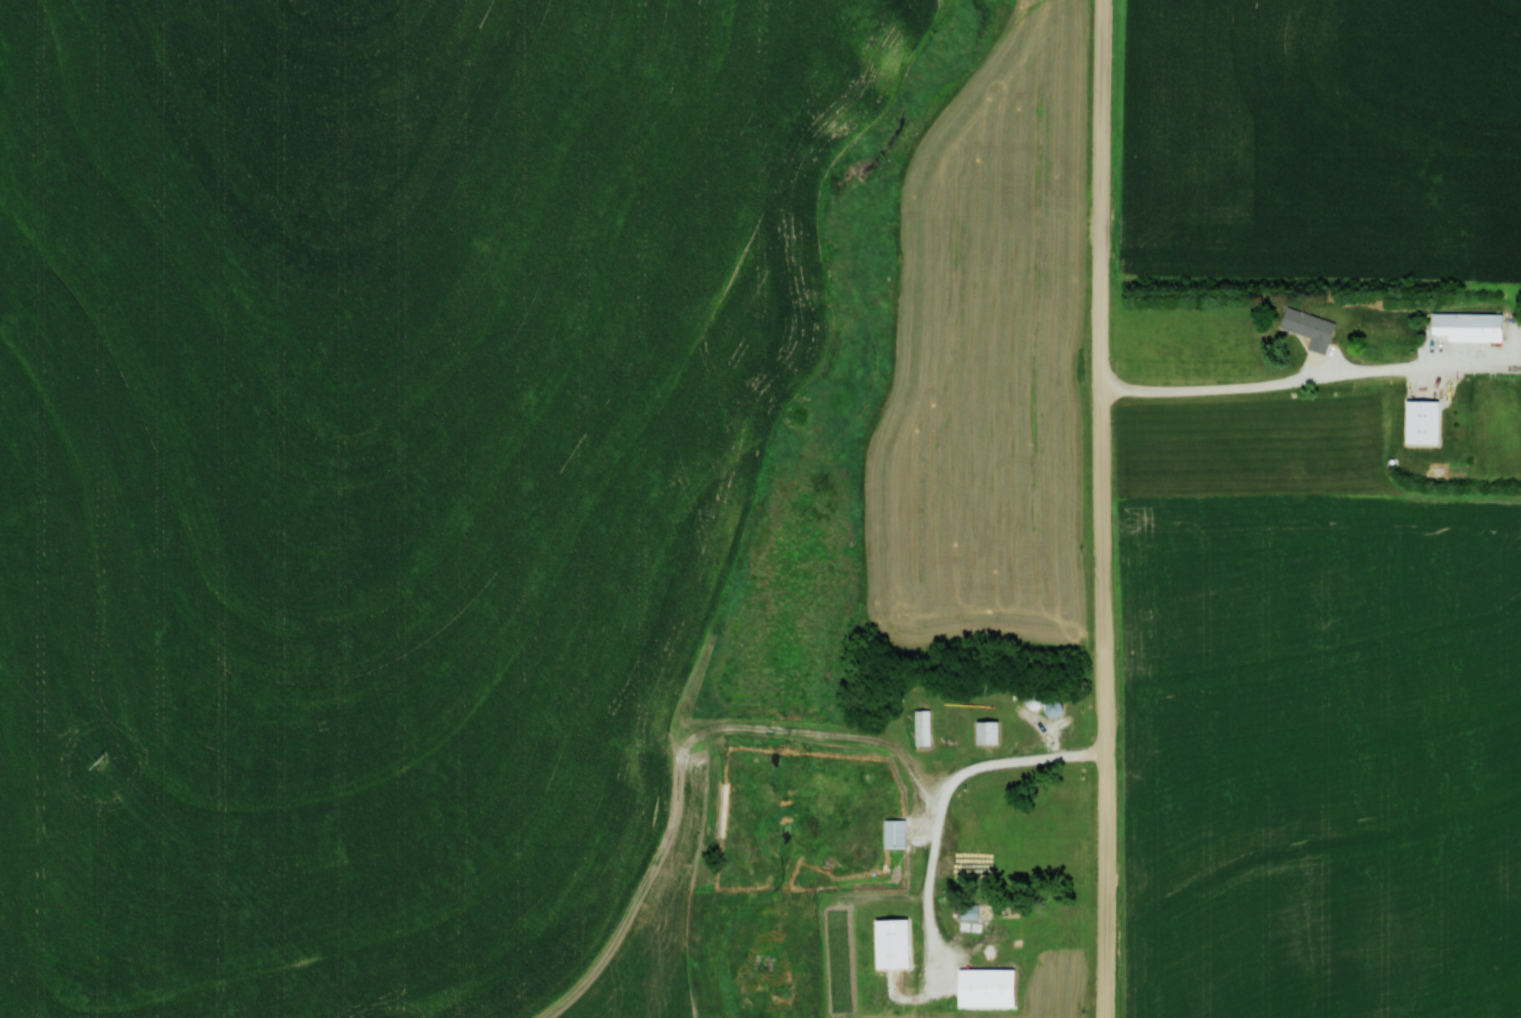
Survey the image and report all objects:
building: (1464, 325)
building: (1307, 328)
road: (1311, 382)
building: (1419, 422)
road: (1103, 508)
building: (1049, 708)
building: (919, 726)
building: (983, 732)
power tower: (100, 762)
road: (957, 786)
building: (891, 832)
building: (967, 910)
building: (888, 941)
building: (981, 986)

